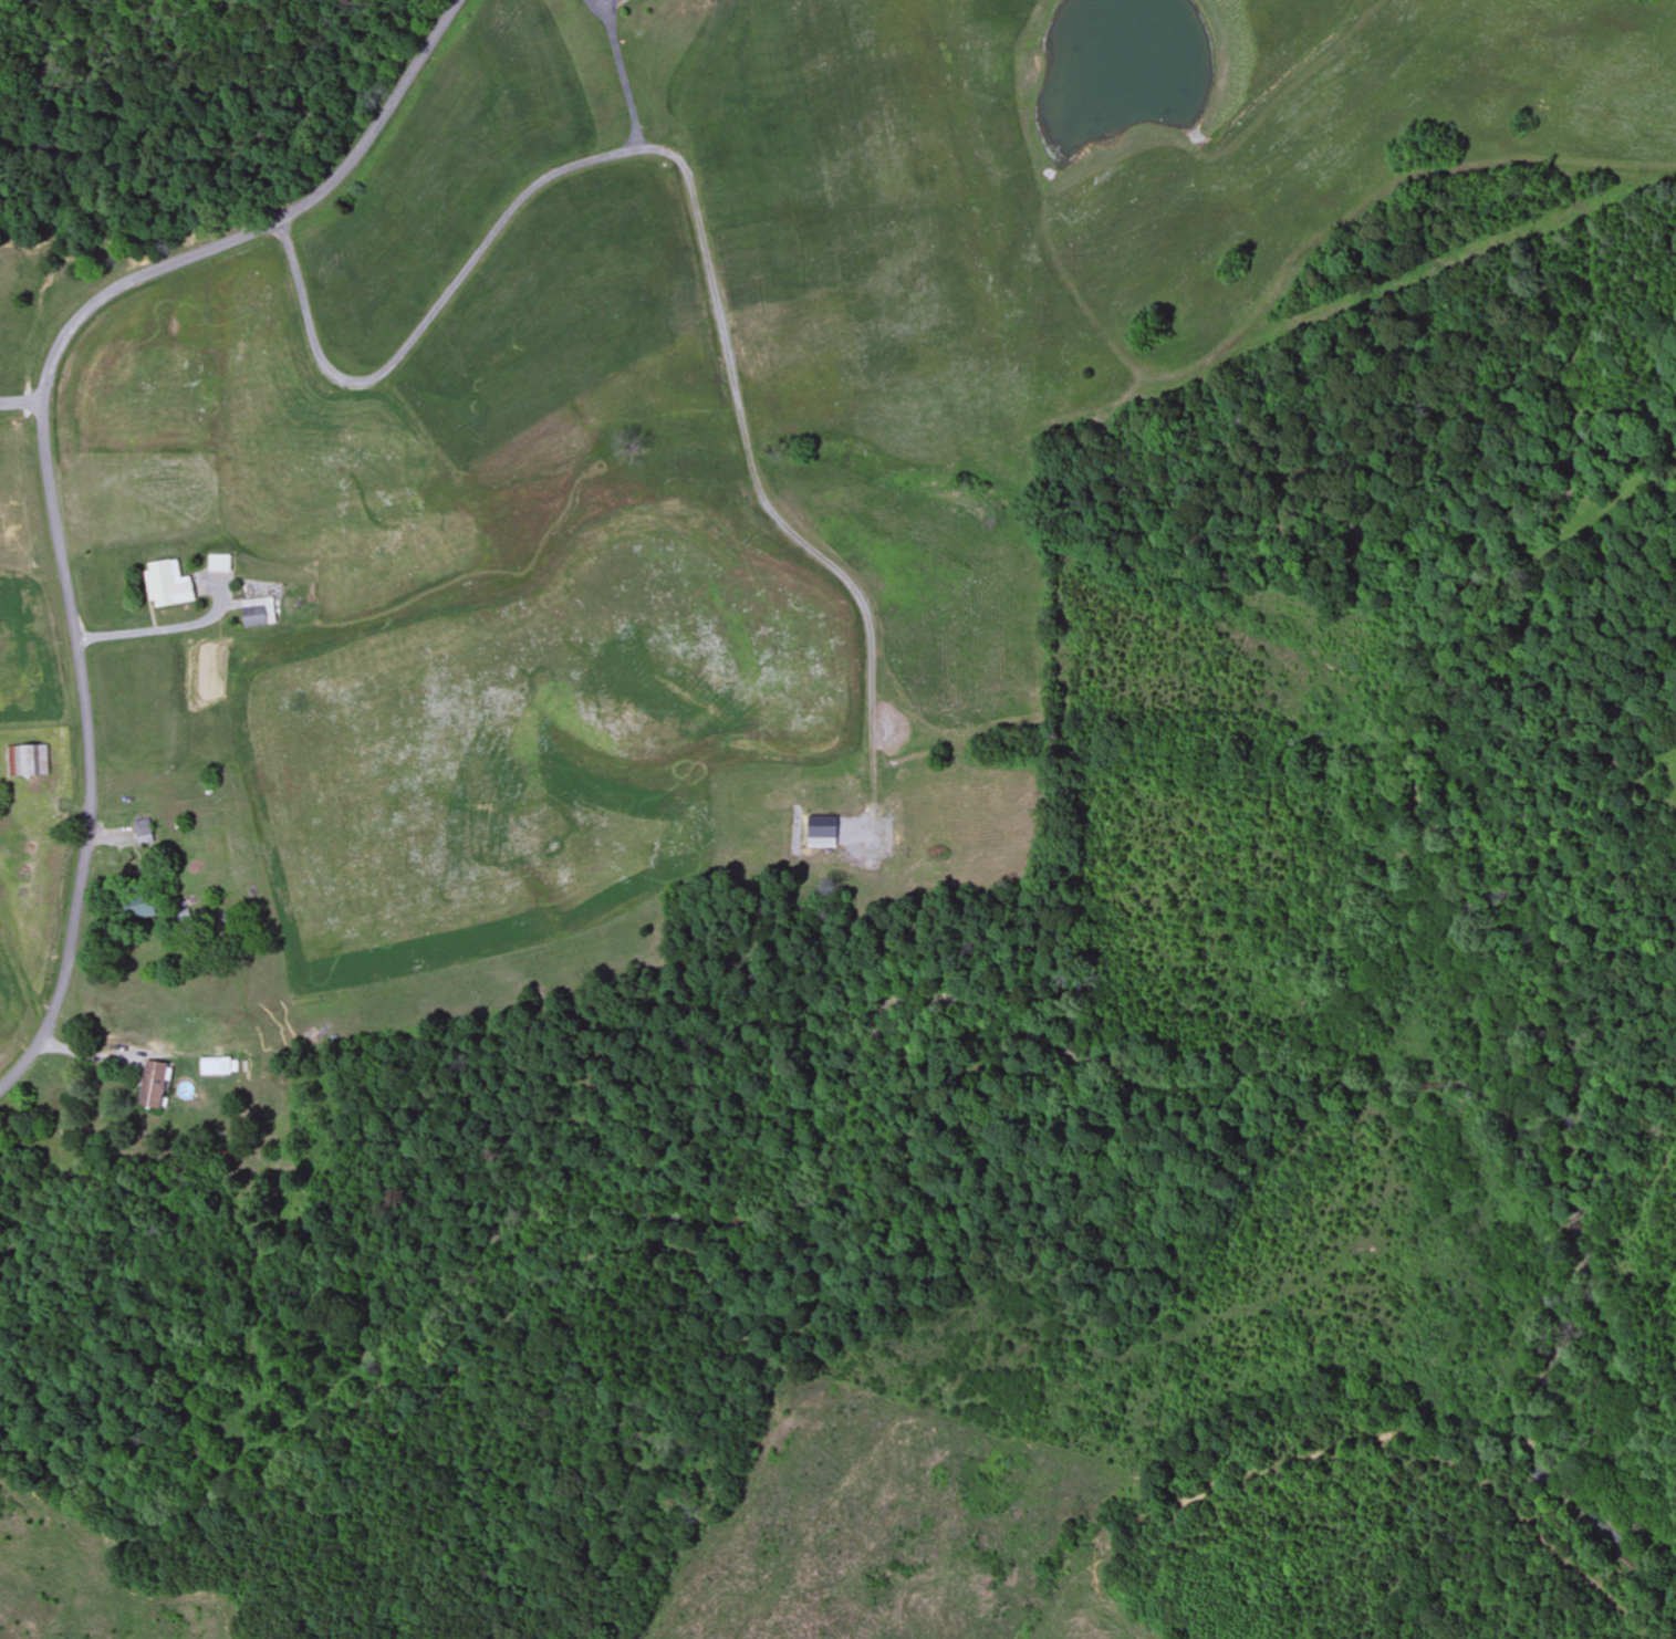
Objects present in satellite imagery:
building: (624, 0)
road: (620, 74)
road: (445, 294)
road: (22, 404)
road: (46, 456)
road: (750, 461)
building: (170, 584)
building: (260, 612)
building: (28, 761)
building: (144, 832)
building: (158, 1084)

